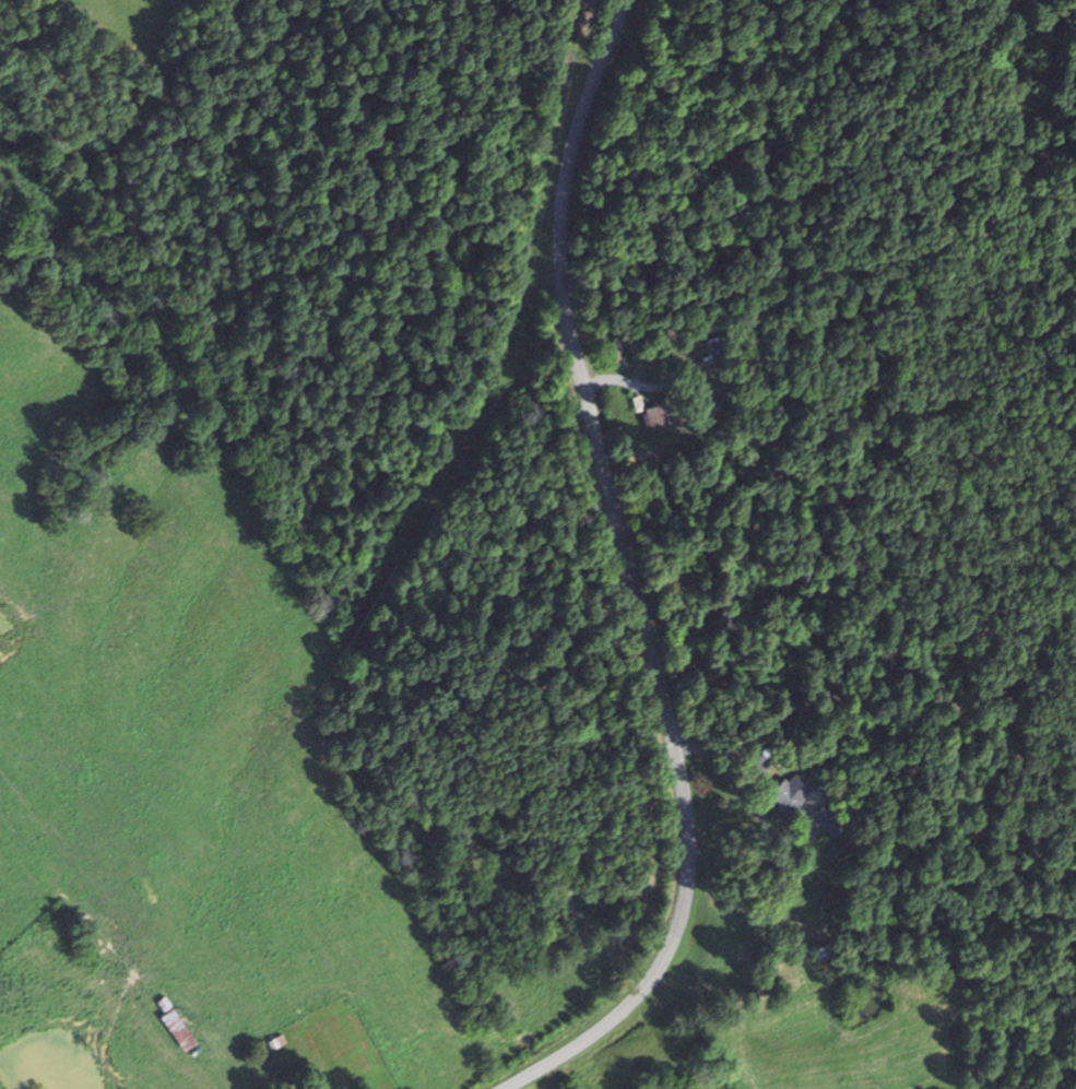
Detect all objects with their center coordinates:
road: (634, 579)
road: (677, 1034)

